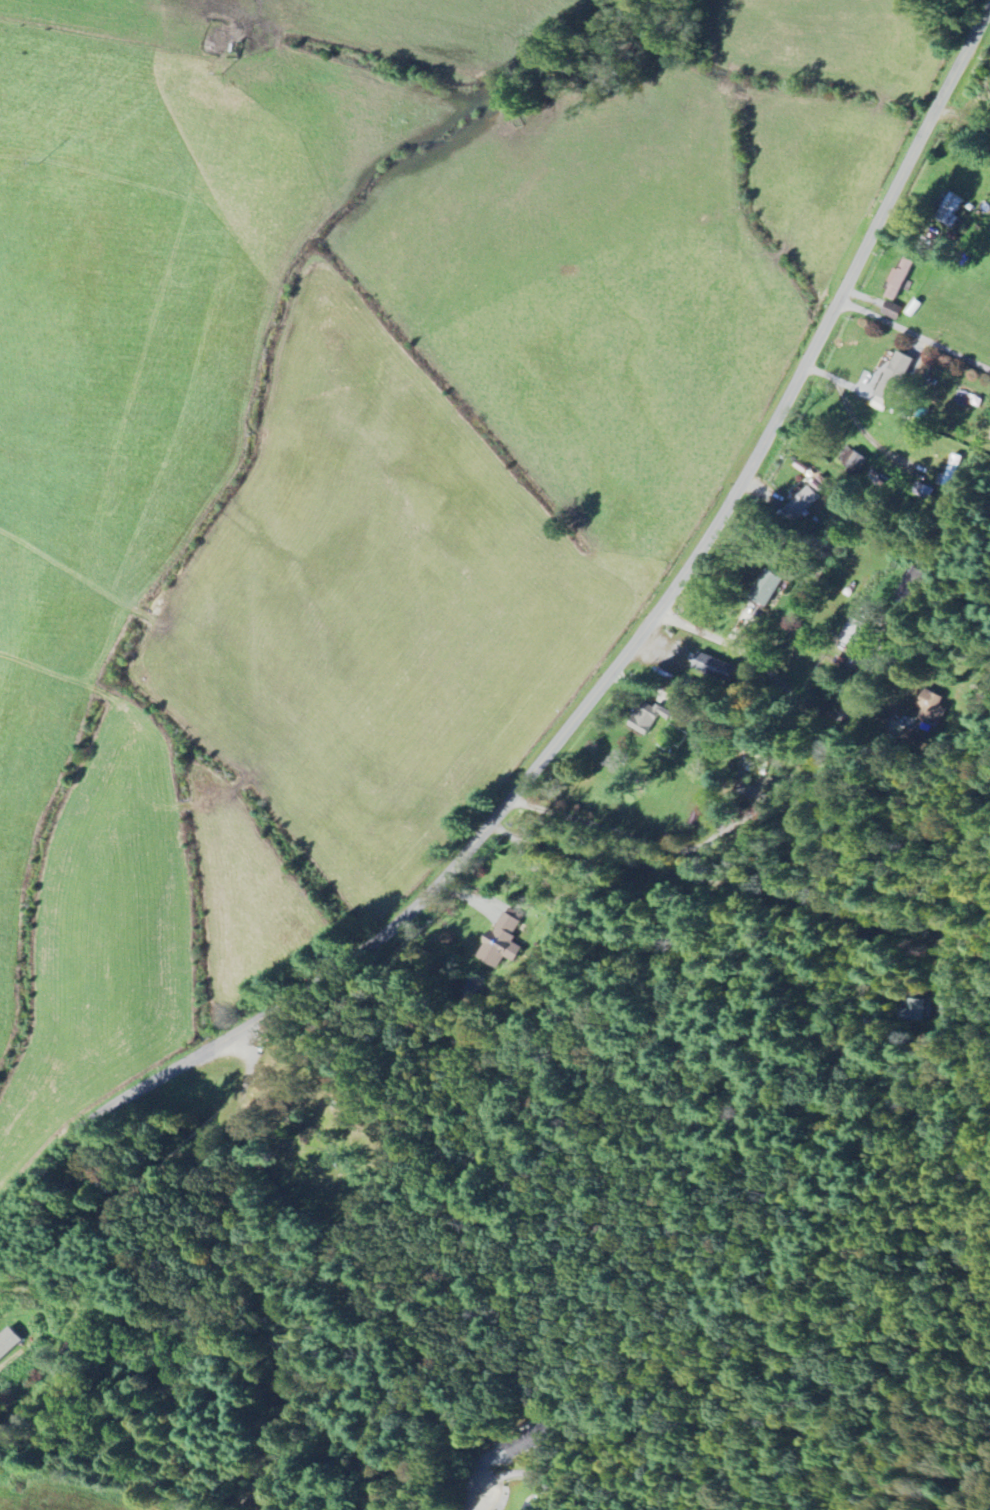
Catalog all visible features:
building: (948, 208)
building: (897, 278)
building: (890, 310)
road: (913, 335)
building: (892, 376)
building: (851, 460)
building: (951, 471)
building: (800, 504)
building: (915, 585)
building: (764, 589)
building: (854, 632)
building: (712, 664)
road: (772, 673)
road: (592, 696)
building: (930, 711)
building: (642, 717)
road: (739, 887)
building: (500, 941)
building: (921, 1011)
building: (10, 1343)
road: (10, 1358)
road: (477, 1506)
building: (532, 1507)

